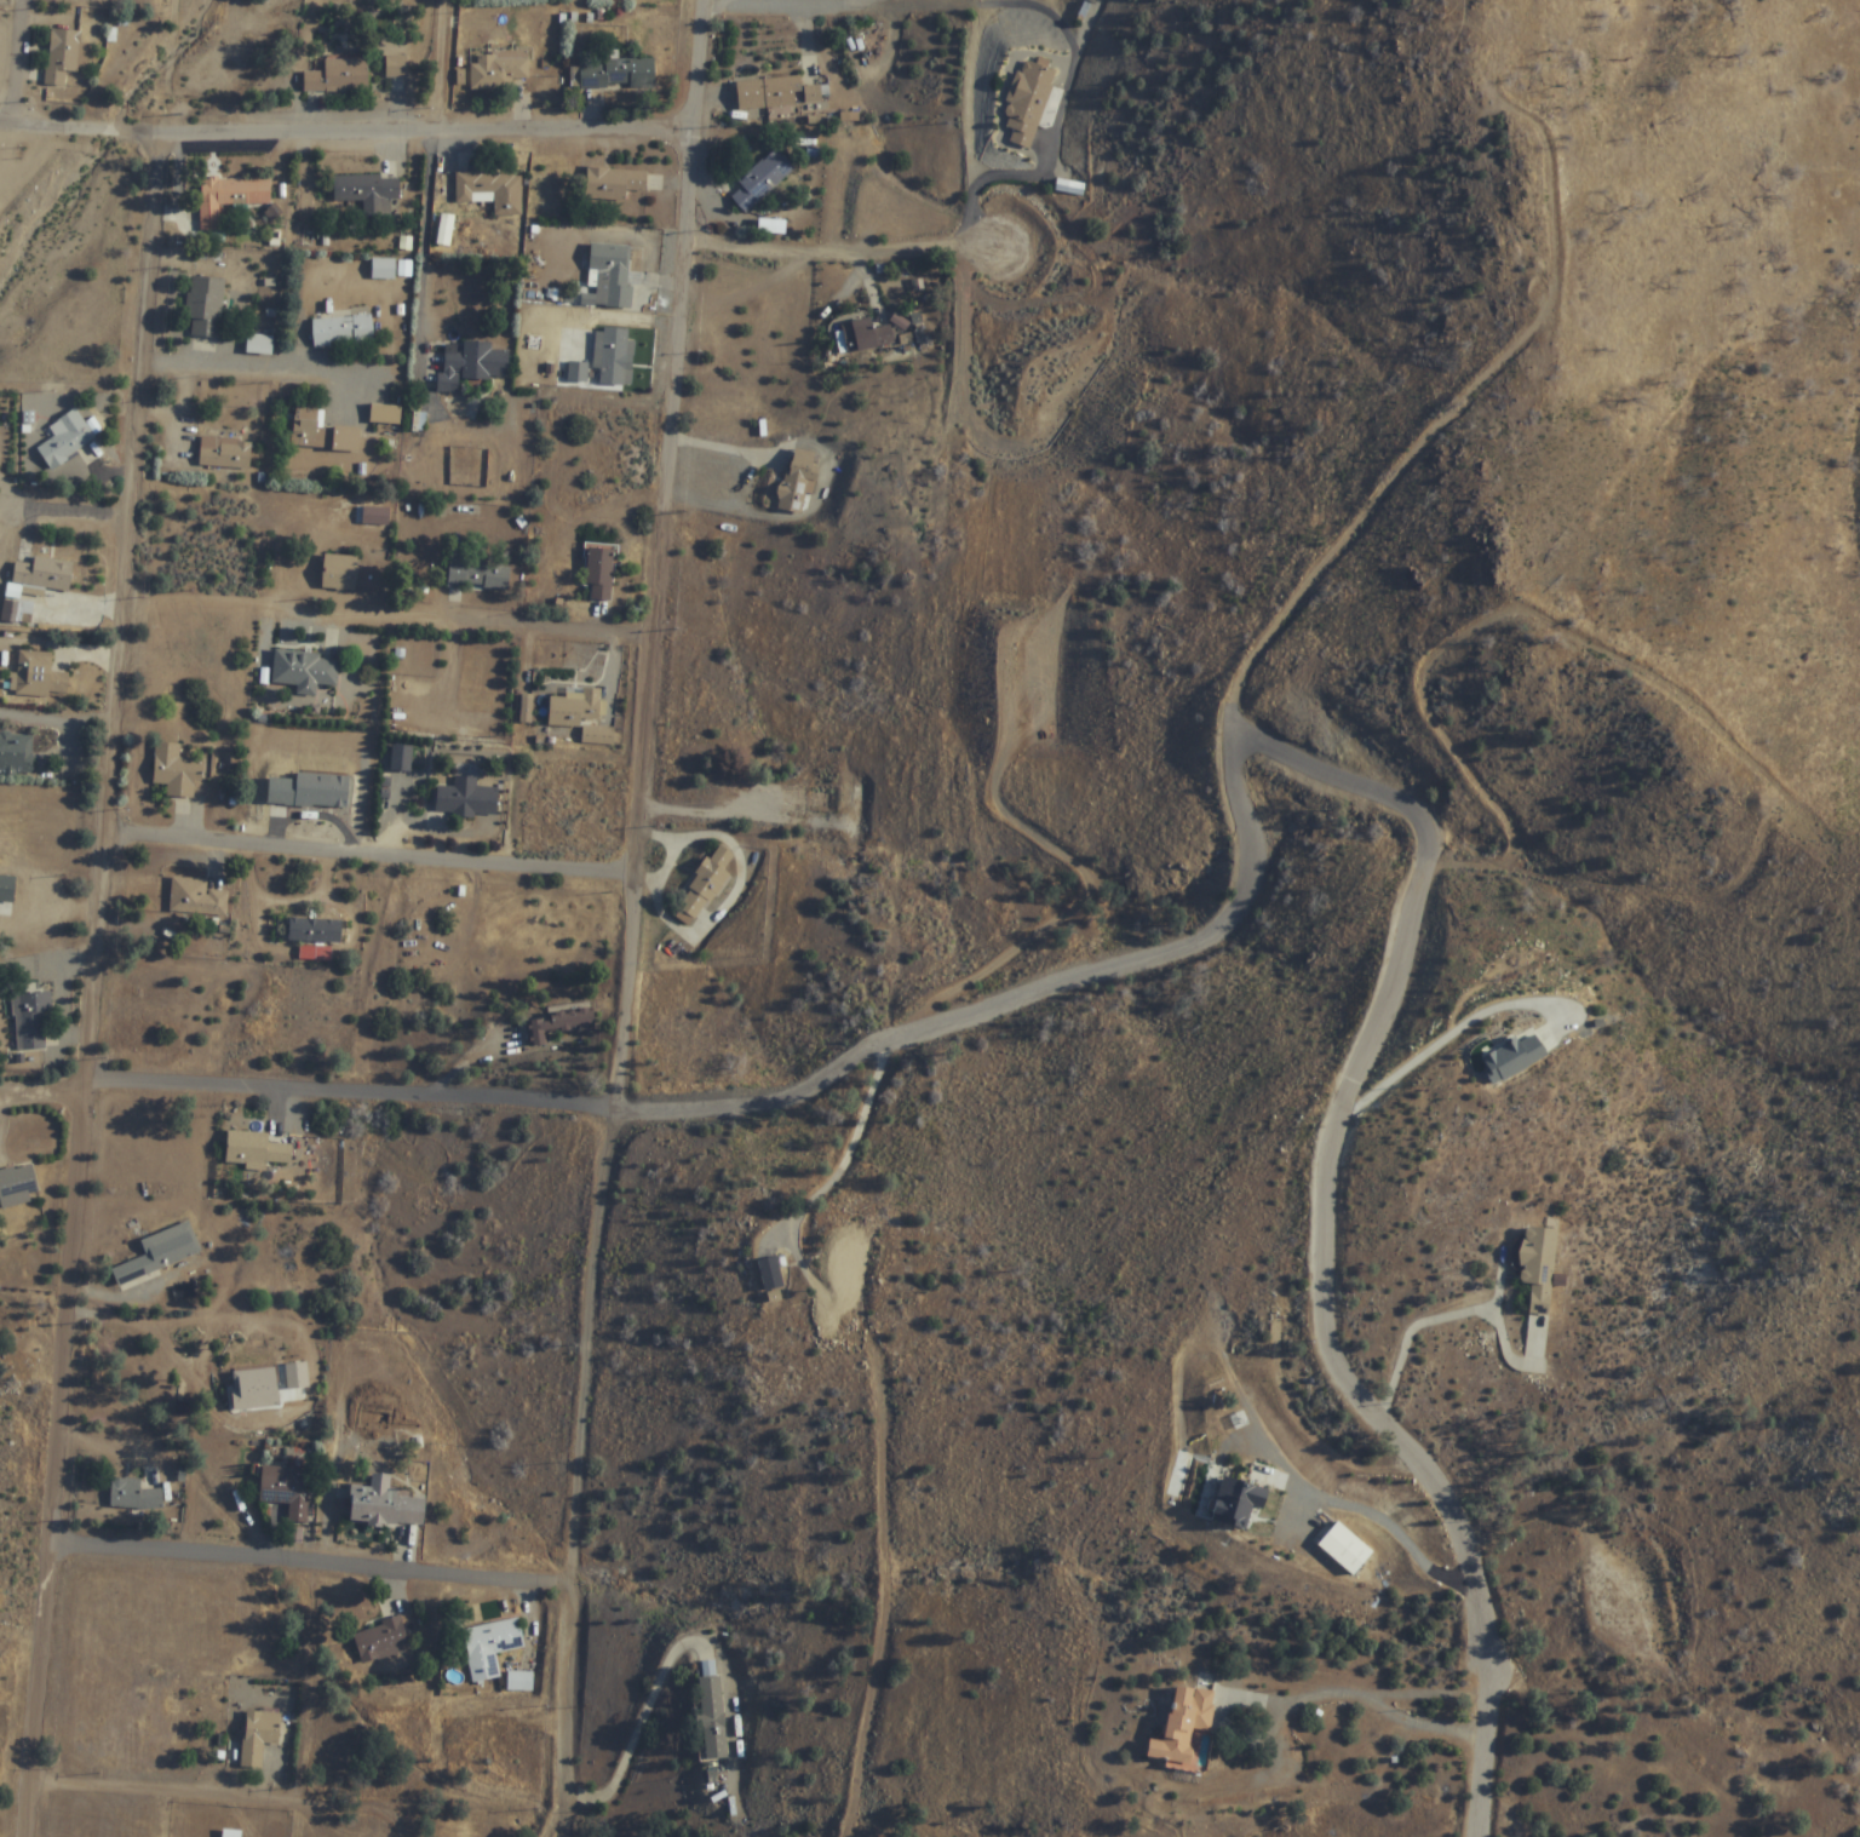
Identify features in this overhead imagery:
road: (820, 6)
building: (63, 57)
road: (443, 64)
building: (499, 69)
building: (616, 73)
building: (337, 75)
building: (770, 93)
building: (813, 94)
building: (1029, 101)
road: (348, 132)
building: (763, 180)
building: (1070, 188)
building: (490, 191)
building: (367, 194)
building: (620, 194)
building: (230, 199)
building: (446, 230)
building: (384, 269)
building: (609, 276)
building: (206, 306)
building: (341, 331)
building: (866, 335)
building: (259, 345)
building: (614, 356)
road: (211, 362)
building: (471, 366)
building: (579, 372)
building: (322, 434)
building: (69, 442)
road: (721, 450)
building: (225, 452)
building: (798, 481)
road: (77, 512)
building: (45, 574)
building: (480, 574)
building: (599, 574)
building: (350, 575)
building: (10, 612)
road: (387, 615)
building: (305, 672)
building: (40, 677)
building: (581, 717)
building: (16, 754)
building: (401, 759)
building: (174, 771)
building: (310, 792)
building: (833, 794)
building: (467, 799)
road: (638, 836)
road: (371, 855)
building: (706, 884)
building: (197, 897)
building: (315, 929)
road: (93, 987)
building: (31, 1021)
building: (557, 1024)
building: (1515, 1056)
road: (848, 1069)
building: (256, 1149)
building: (18, 1183)
building: (160, 1252)
building: (855, 1258)
building: (1542, 1265)
building: (771, 1271)
road: (1337, 1355)
building: (260, 1367)
building: (254, 1408)
building: (378, 1417)
building: (288, 1489)
building: (133, 1494)
building: (1239, 1502)
building: (385, 1504)
building: (1345, 1548)
building: (383, 1643)
building: (490, 1648)
building: (524, 1682)
building: (713, 1718)
building: (1186, 1727)
building: (259, 1736)
road: (569, 1753)
road: (306, 1804)

